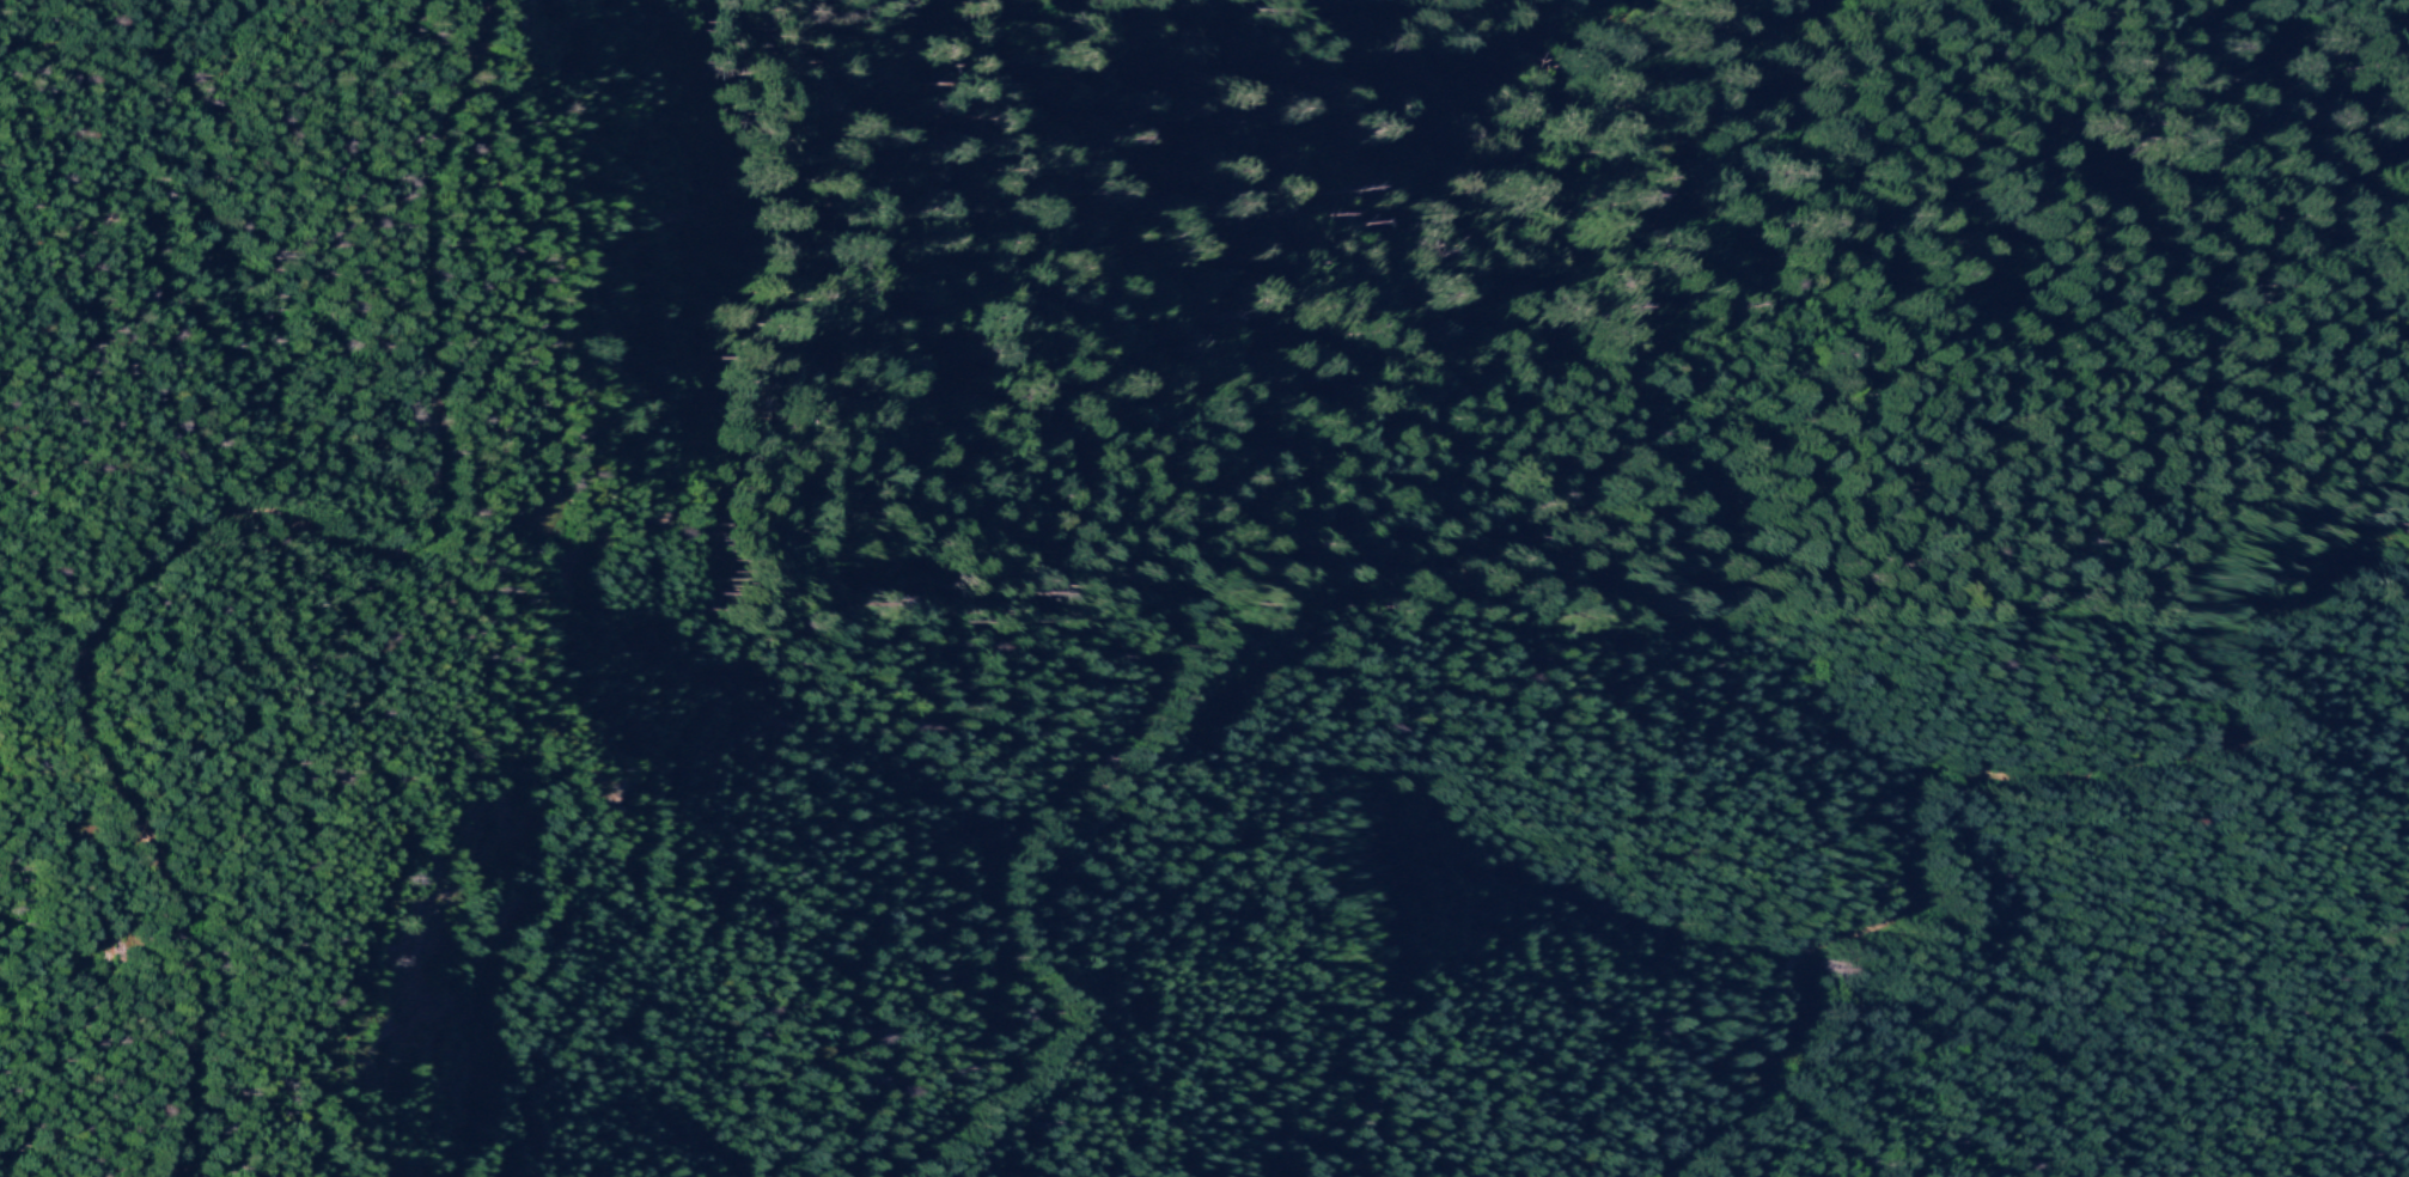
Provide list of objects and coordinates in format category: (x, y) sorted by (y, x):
road: (303, 469)
road: (39, 1049)

